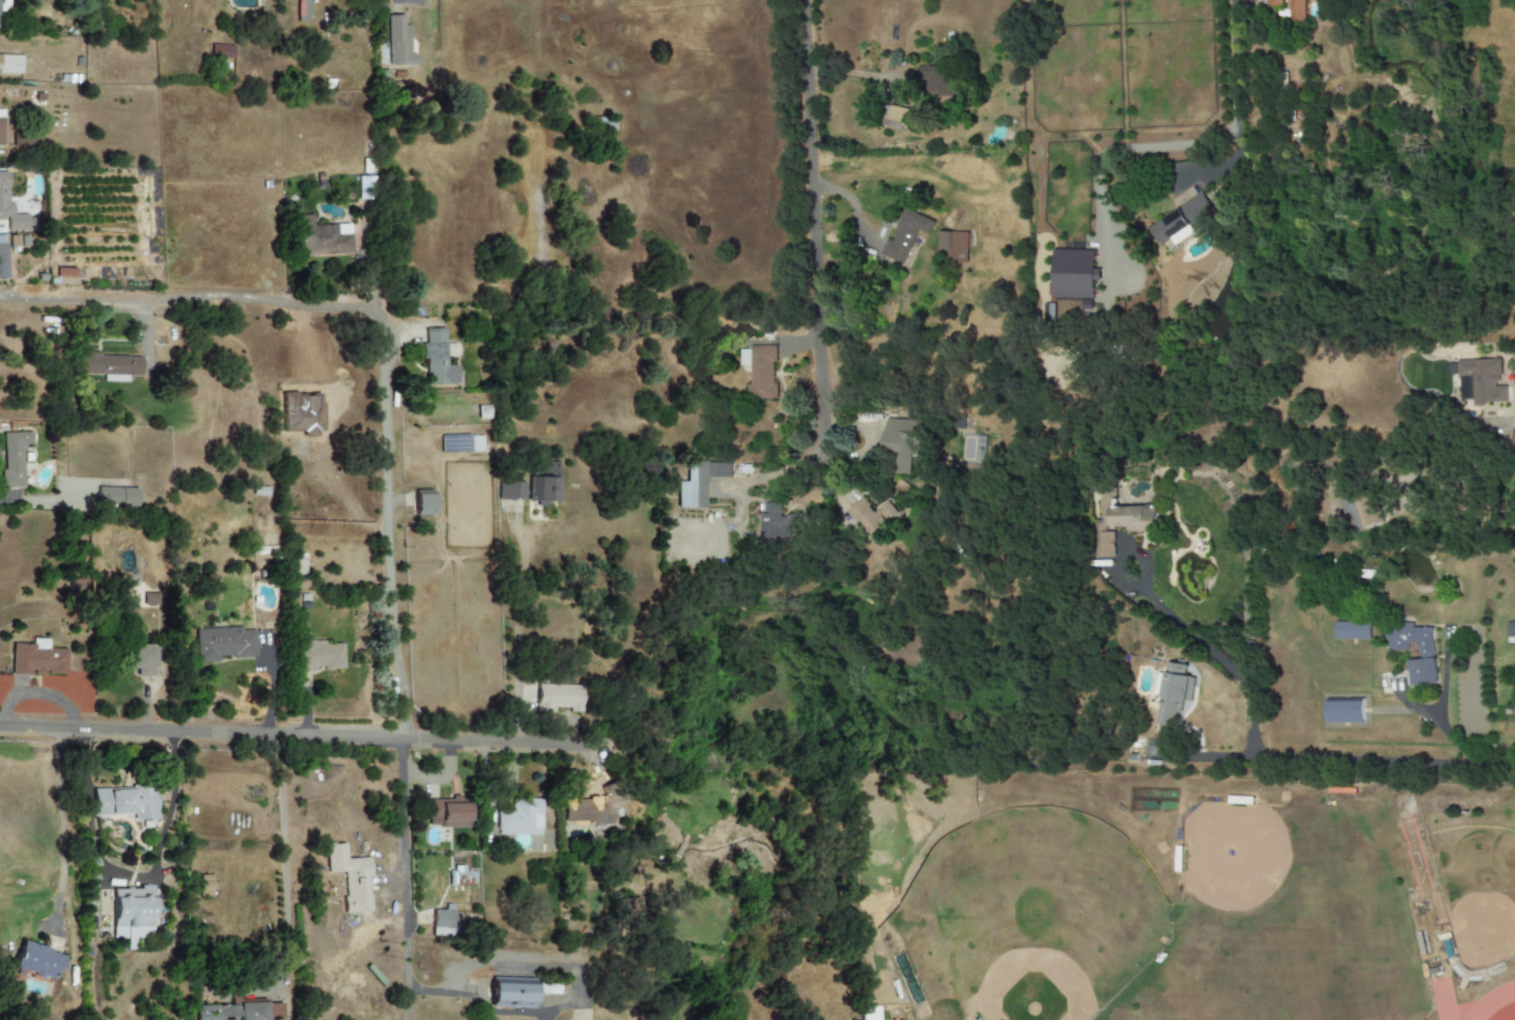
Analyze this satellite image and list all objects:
building: (1274, 3)
building: (5, 5)
building: (1296, 10)
building: (398, 42)
building: (221, 51)
building: (10, 64)
building: (938, 81)
road: (1232, 103)
building: (896, 117)
building: (1, 127)
building: (24, 138)
building: (10, 210)
road: (811, 216)
building: (1181, 220)
building: (905, 235)
building: (322, 238)
building: (954, 246)
building: (3, 257)
building: (1073, 274)
road: (386, 329)
building: (437, 358)
building: (110, 365)
building: (760, 371)
building: (1481, 381)
building: (904, 443)
building: (13, 459)
road: (774, 472)
building: (699, 482)
building: (543, 487)
building: (517, 490)
building: (117, 496)
road: (39, 502)
road: (1459, 506)
building: (1358, 513)
building: (874, 516)
building: (779, 522)
road: (955, 547)
road: (516, 630)
building: (1510, 632)
building: (223, 644)
road: (1214, 653)
building: (319, 655)
building: (1426, 655)
building: (37, 659)
building: (142, 661)
building: (1173, 692)
road: (270, 695)
building: (556, 698)
road: (303, 737)
road: (1207, 757)
road: (1388, 761)
building: (125, 803)
building: (447, 813)
building: (521, 818)
road: (63, 828)
road: (681, 850)
road: (283, 851)
road: (103, 875)
building: (350, 878)
road: (403, 881)
building: (203, 886)
building: (132, 914)
building: (37, 961)
road: (437, 991)
building: (511, 993)
track: (1443, 1000)
track: (1491, 1002)
road: (571, 1008)
building: (277, 1011)
building: (230, 1012)

